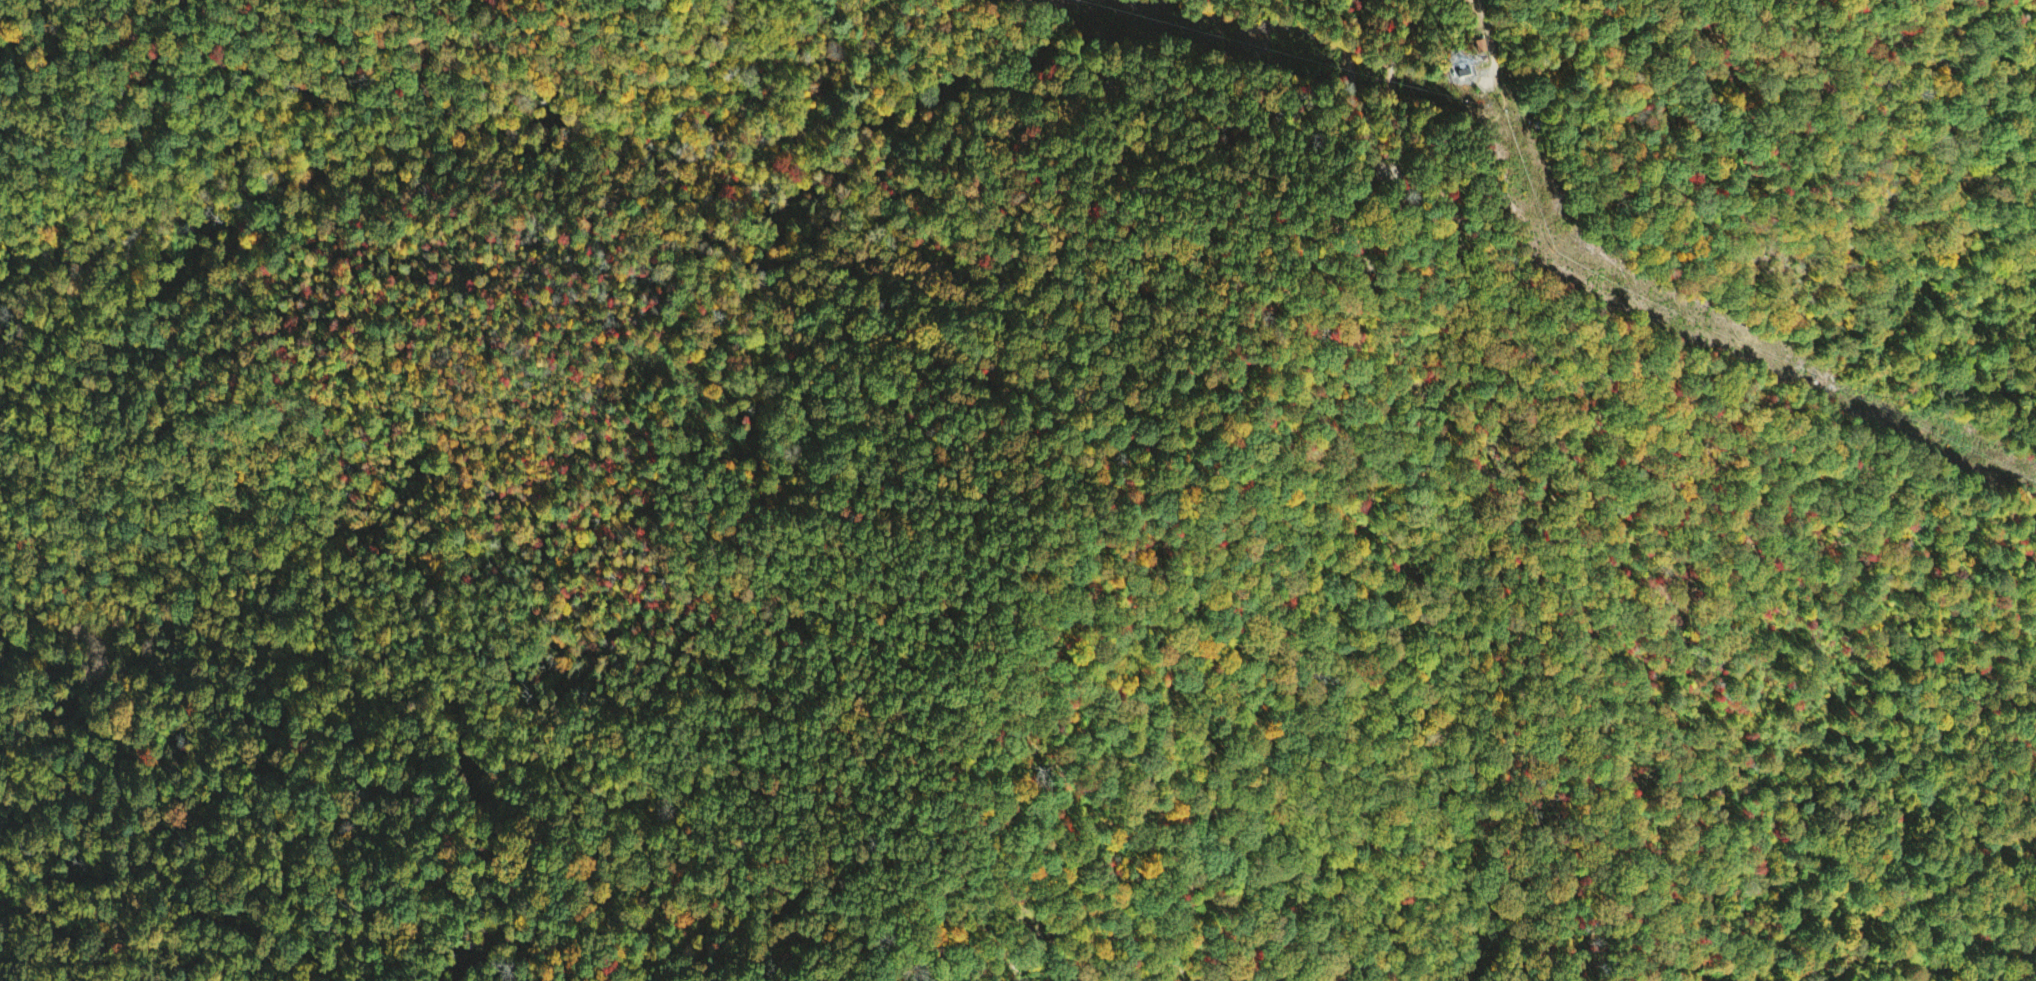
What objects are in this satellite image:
road: (1484, 38)
road: (1388, 170)
road: (950, 209)
road: (1201, 432)
road: (730, 694)

